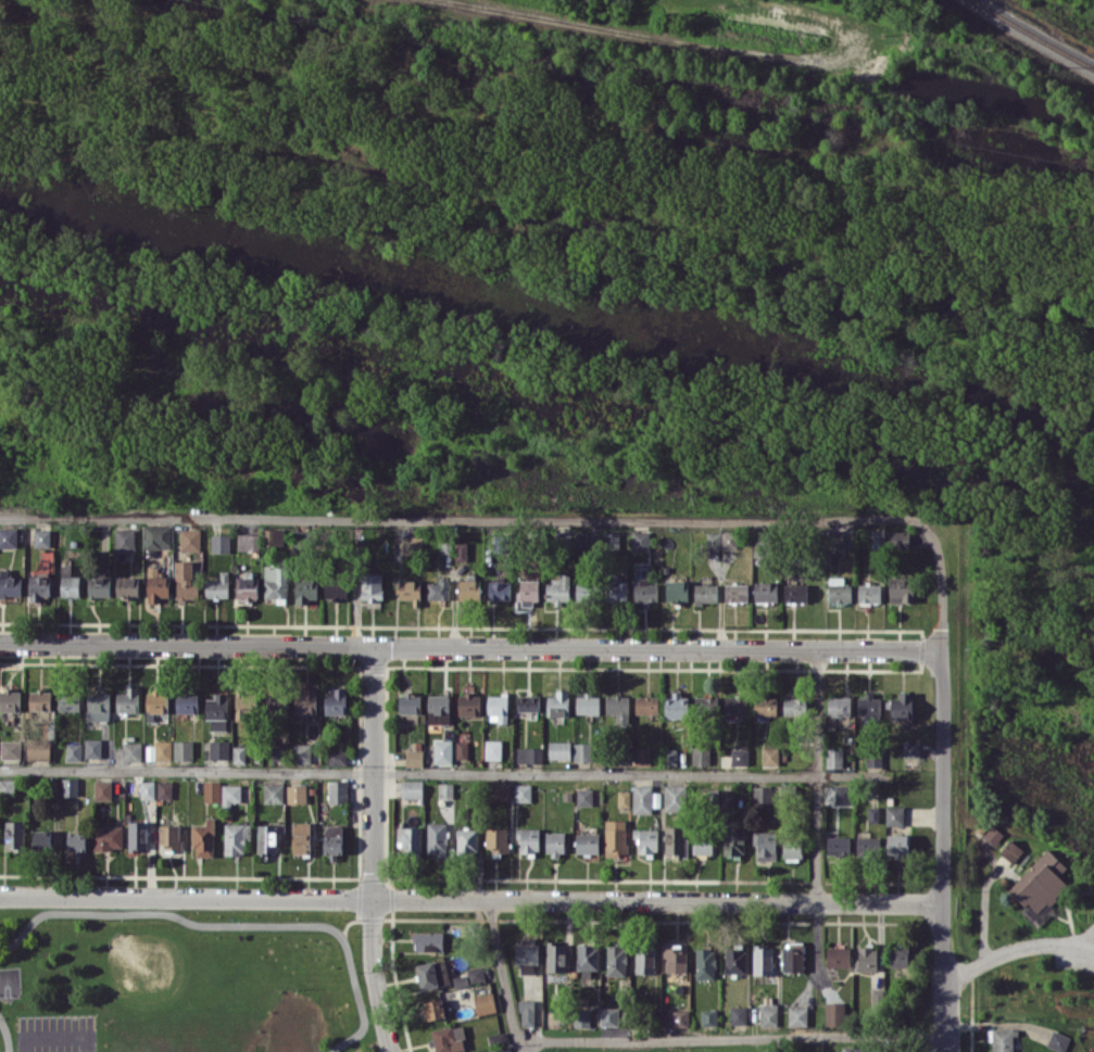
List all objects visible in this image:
railway: (1036, 31)
road: (740, 67)
road: (460, 519)
building: (8, 536)
building: (156, 536)
building: (41, 537)
building: (571, 537)
building: (189, 538)
building: (897, 538)
building: (124, 540)
building: (611, 540)
building: (713, 540)
building: (729, 540)
building: (834, 540)
building: (877, 540)
building: (248, 541)
building: (640, 541)
building: (219, 543)
building: (408, 543)
building: (759, 547)
building: (461, 550)
building: (186, 581)
building: (274, 581)
building: (9, 585)
building: (156, 585)
building: (217, 585)
building: (39, 586)
building: (127, 586)
building: (70, 587)
building: (247, 587)
building: (334, 588)
building: (370, 588)
building: (468, 588)
building: (615, 588)
building: (304, 590)
building: (438, 590)
building: (558, 590)
building: (839, 590)
building: (901, 590)
building: (410, 591)
building: (499, 591)
building: (645, 591)
building: (676, 591)
building: (765, 591)
building: (528, 592)
building: (582, 592)
building: (735, 592)
building: (794, 592)
building: (705, 593)
building: (869, 593)
road: (471, 647)
building: (10, 699)
building: (39, 700)
building: (68, 700)
building: (127, 700)
building: (275, 700)
building: (304, 700)
building: (336, 701)
building: (526, 701)
building: (155, 702)
building: (186, 702)
building: (408, 702)
building: (587, 702)
building: (468, 704)
building: (557, 704)
building: (735, 704)
building: (98, 705)
building: (244, 705)
building: (645, 705)
building: (705, 705)
building: (764, 705)
building: (868, 705)
building: (676, 706)
building: (794, 706)
building: (838, 706)
building: (901, 706)
building: (617, 707)
building: (438, 708)
building: (496, 708)
building: (216, 711)
building: (92, 747)
building: (10, 748)
building: (218, 748)
building: (910, 748)
building: (38, 749)
building: (183, 749)
building: (461, 749)
building: (492, 749)
building: (73, 750)
building: (131, 750)
building: (158, 750)
building: (558, 750)
building: (279, 751)
building: (442, 751)
building: (582, 751)
building: (301, 752)
building: (238, 753)
building: (529, 755)
building: (700, 755)
building: (642, 756)
building: (739, 756)
building: (337, 757)
building: (413, 757)
building: (769, 757)
building: (833, 757)
building: (873, 760)
road: (426, 770)
road: (815, 775)
road: (941, 784)
building: (70, 786)
building: (7, 787)
building: (411, 788)
building: (102, 789)
building: (147, 789)
building: (164, 789)
building: (445, 789)
building: (211, 790)
building: (337, 790)
building: (55, 791)
building: (501, 791)
building: (521, 791)
building: (273, 793)
building: (295, 793)
building: (841, 794)
building: (230, 795)
building: (583, 796)
building: (762, 796)
building: (674, 797)
building: (726, 797)
building: (623, 798)
building: (644, 798)
building: (872, 814)
building: (894, 814)
building: (14, 834)
building: (993, 834)
building: (137, 835)
building: (168, 836)
building: (106, 837)
building: (236, 837)
building: (300, 837)
building: (436, 837)
building: (615, 837)
building: (203, 838)
building: (266, 838)
building: (407, 838)
building: (496, 838)
building: (41, 839)
building: (466, 839)
building: (77, 840)
building: (332, 840)
building: (528, 840)
building: (645, 840)
building: (675, 840)
building: (733, 841)
building: (555, 842)
building: (586, 842)
building: (703, 842)
building: (765, 844)
building: (867, 844)
building: (838, 845)
building: (897, 845)
building: (791, 849)
road: (372, 850)
building: (1010, 850)
building: (1040, 885)
road: (470, 900)
road: (816, 939)
building: (427, 940)
road: (1016, 948)
building: (526, 954)
building: (555, 955)
building: (792, 956)
building: (838, 956)
building: (898, 956)
building: (867, 958)
building: (587, 959)
building: (644, 959)
building: (615, 960)
building: (675, 960)
building: (762, 960)
building: (734, 961)
building: (704, 962)
building: (431, 974)
building: (475, 974)
road: (503, 976)
park: (183, 979)
building: (461, 979)
building: (485, 1003)
building: (433, 1009)
building: (767, 1011)
building: (526, 1012)
building: (834, 1013)
building: (738, 1014)
building: (796, 1015)
building: (608, 1016)
building: (581, 1017)
building: (680, 1017)
building: (708, 1017)
building: (495, 1038)
road: (730, 1038)
building: (448, 1039)
building: (1001, 1039)
building: (1057, 1040)
road: (777, 1043)
building: (501, 1049)

